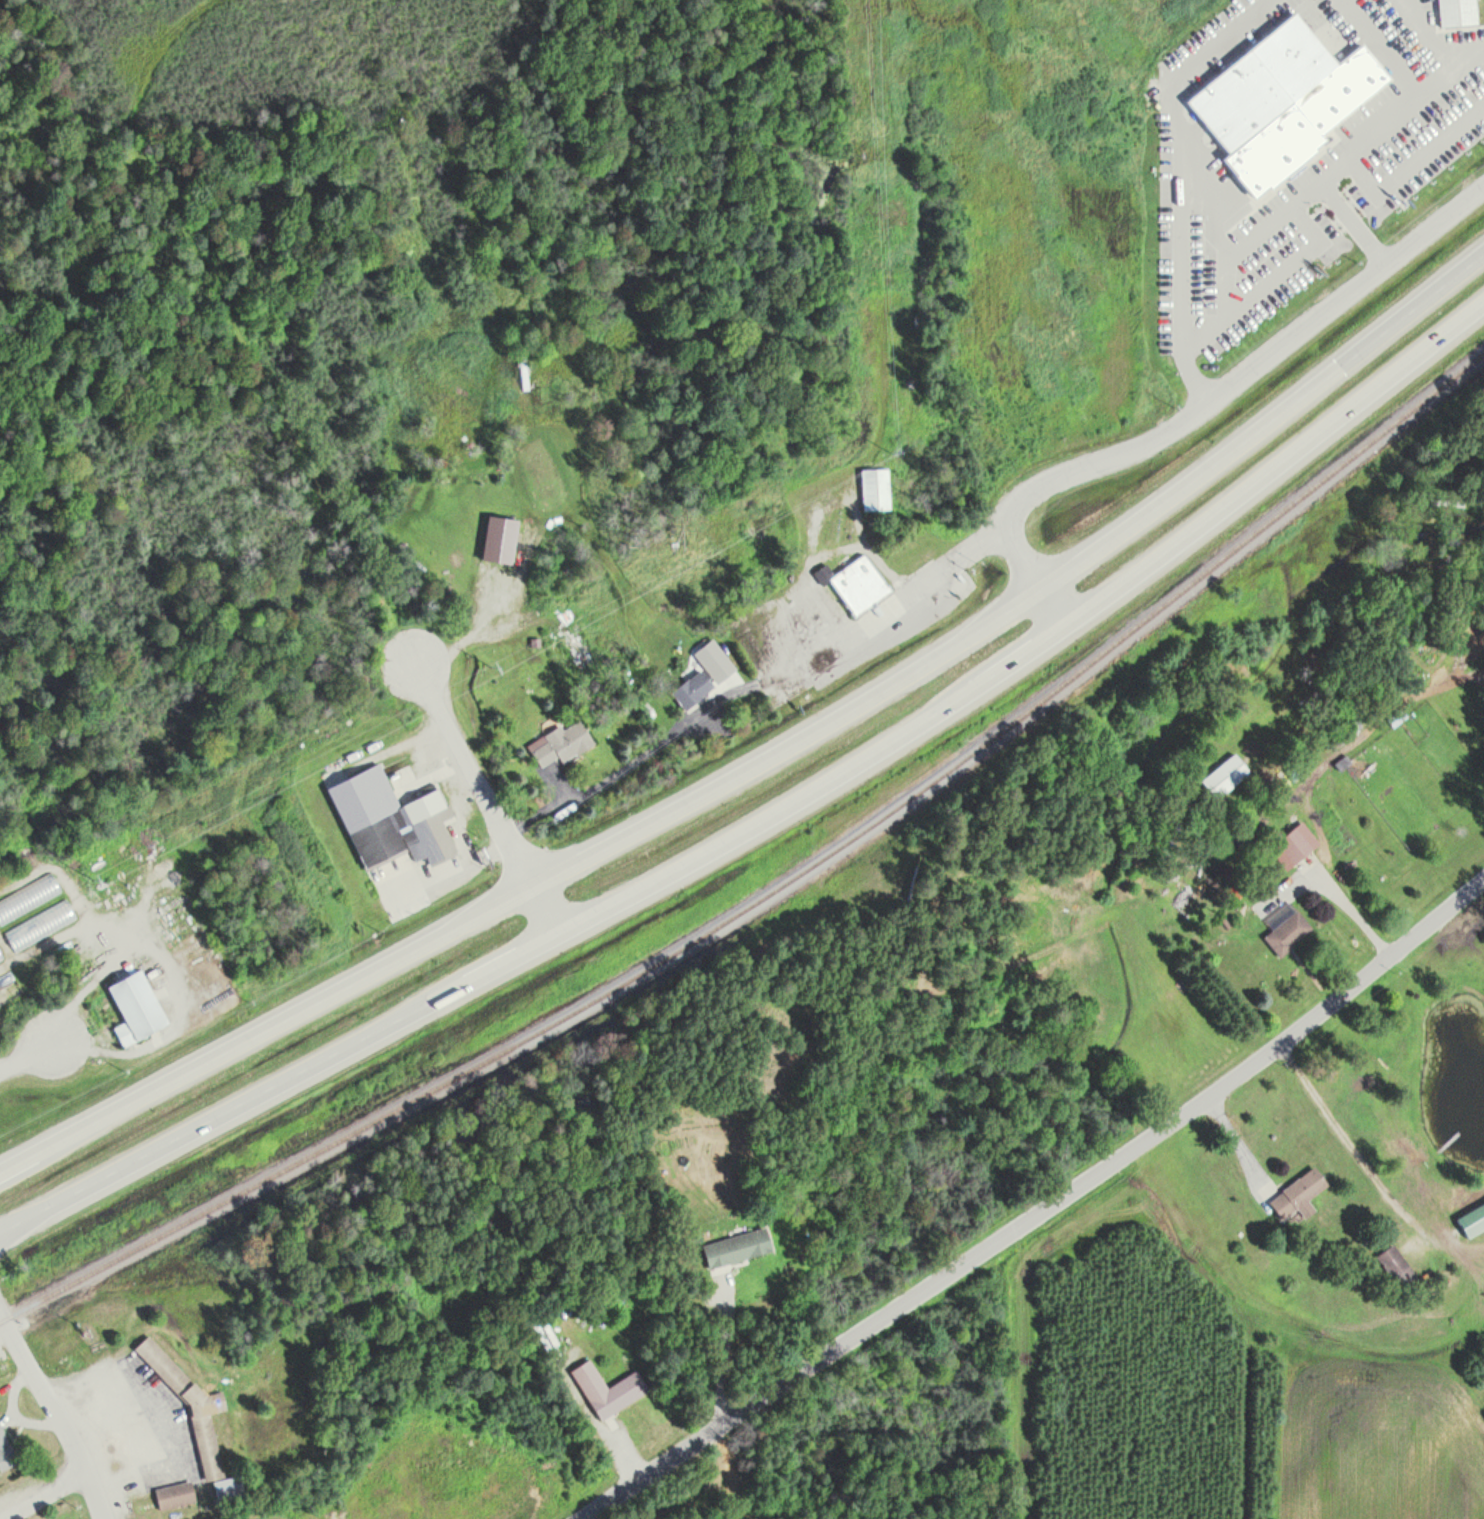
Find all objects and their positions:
building: (1455, 12)
building: (1208, 321)
road: (1201, 401)
power tower: (883, 448)
building: (872, 488)
building: (1359, 528)
building: (497, 538)
building: (854, 583)
building: (577, 641)
power tower: (490, 665)
building: (689, 688)
road: (444, 713)
building: (1396, 717)
building: (559, 743)
road: (770, 757)
building: (1223, 775)
road: (773, 819)
building: (388, 820)
building: (1292, 844)
road: (516, 850)
power tower: (92, 879)
railway: (776, 888)
building: (27, 897)
building: (39, 925)
building: (1286, 933)
building: (1, 960)
building: (5, 984)
building: (132, 1007)
road: (28, 1058)
building: (1296, 1194)
road: (1040, 1208)
building: (1470, 1218)
building: (733, 1246)
building: (1392, 1263)
building: (543, 1332)
building: (605, 1388)
building: (187, 1404)
road: (55, 1412)
building: (5, 1453)
road: (44, 1495)
building: (172, 1495)

